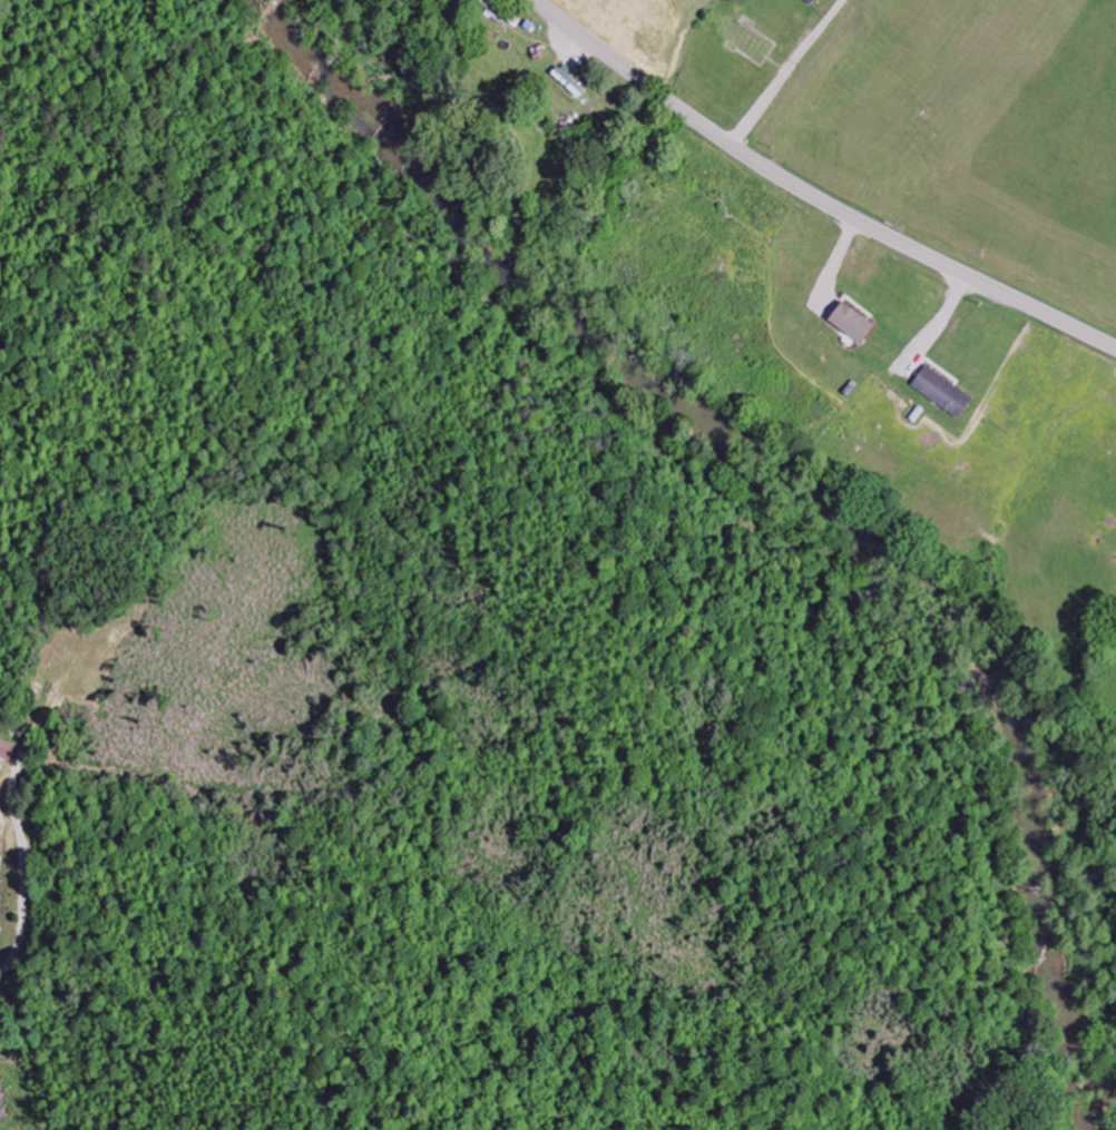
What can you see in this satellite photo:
road: (812, 195)
building: (851, 324)
building: (942, 393)
building: (7, 751)

